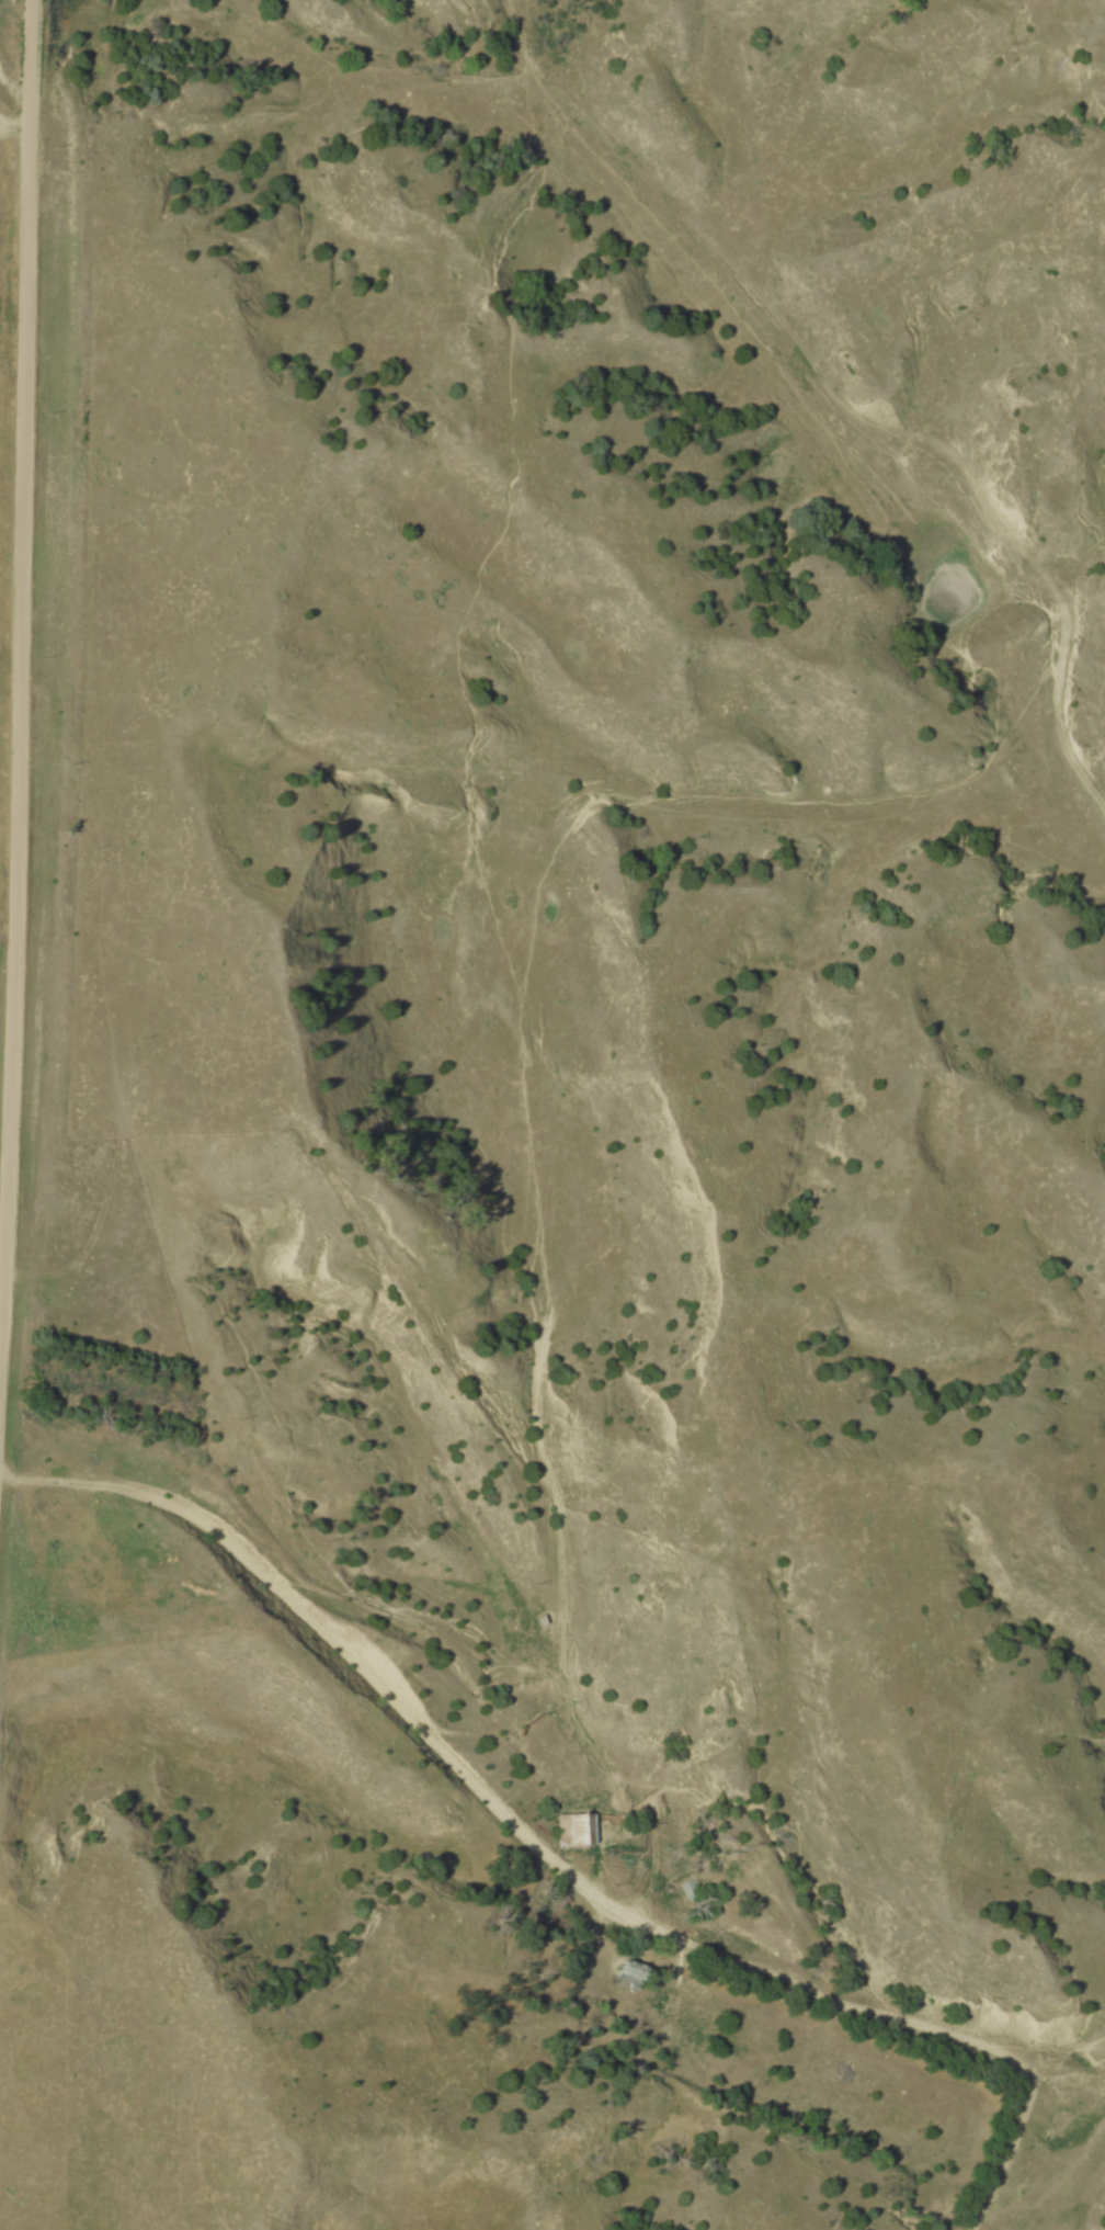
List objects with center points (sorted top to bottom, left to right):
road: (18, 686)
road: (349, 1653)
building: (574, 1831)
building: (691, 1890)
building: (628, 1973)

